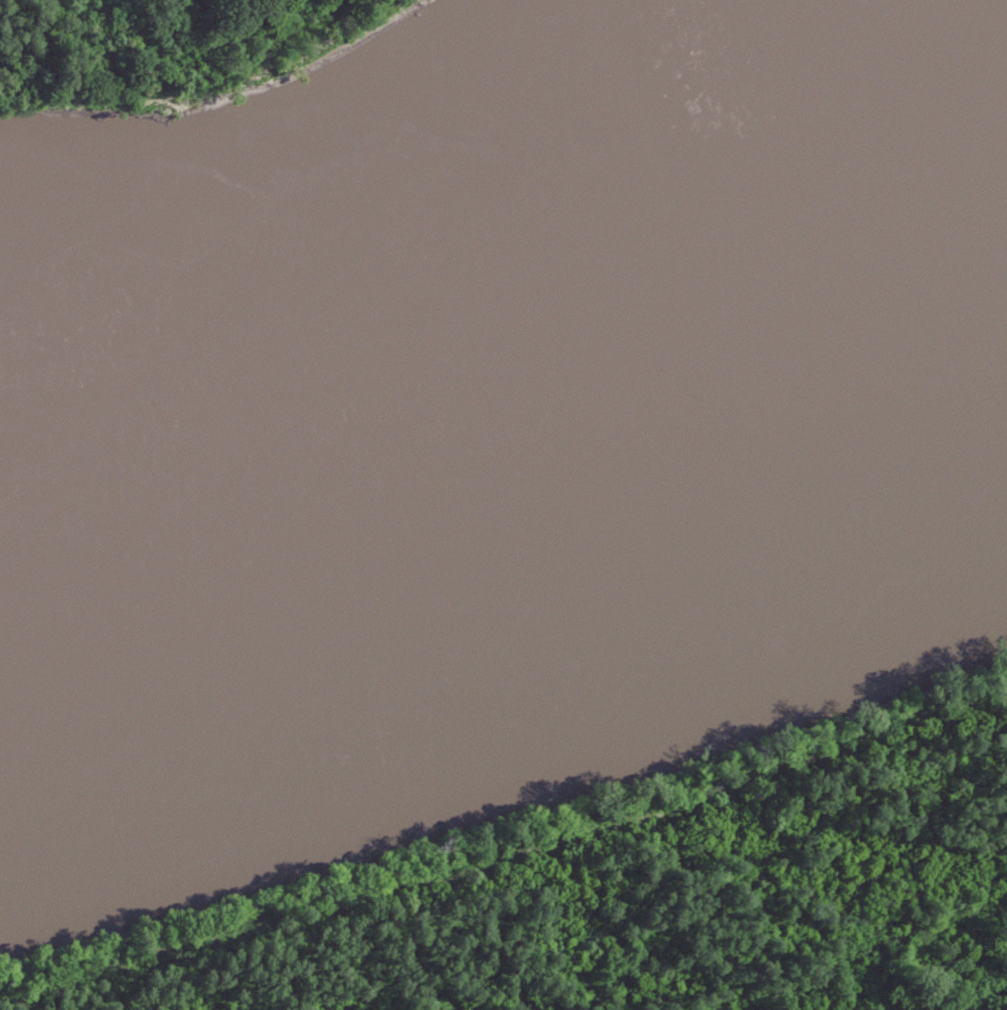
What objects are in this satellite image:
river: (515, 434)

